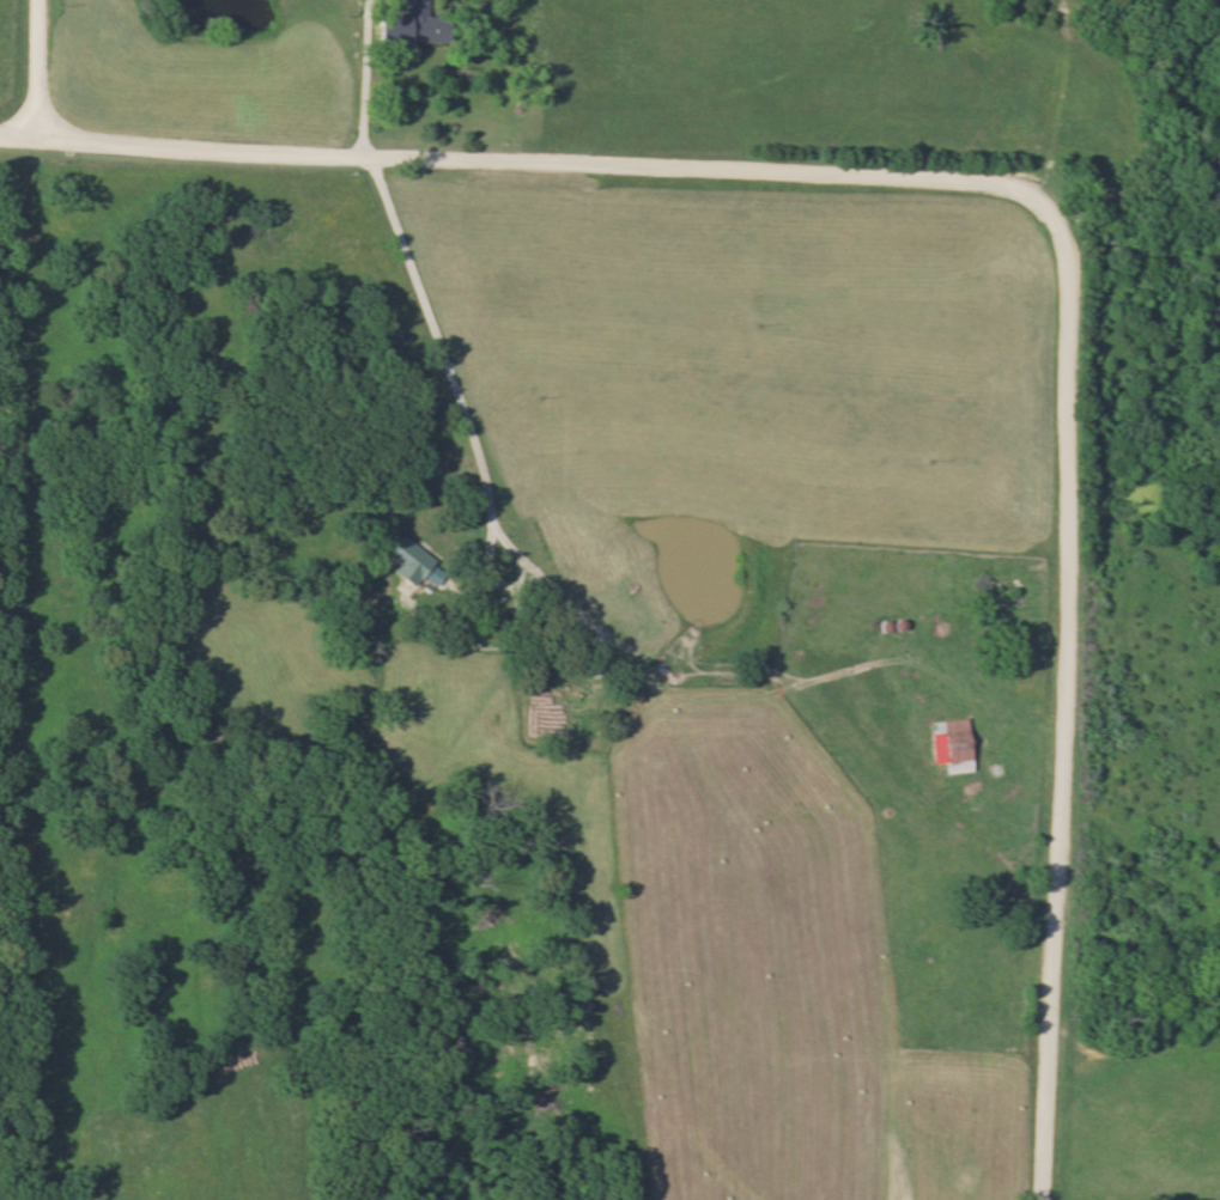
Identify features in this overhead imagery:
building: (409, 23)
road: (44, 67)
road: (369, 78)
road: (1027, 190)
road: (444, 346)
building: (407, 559)
building: (954, 745)

